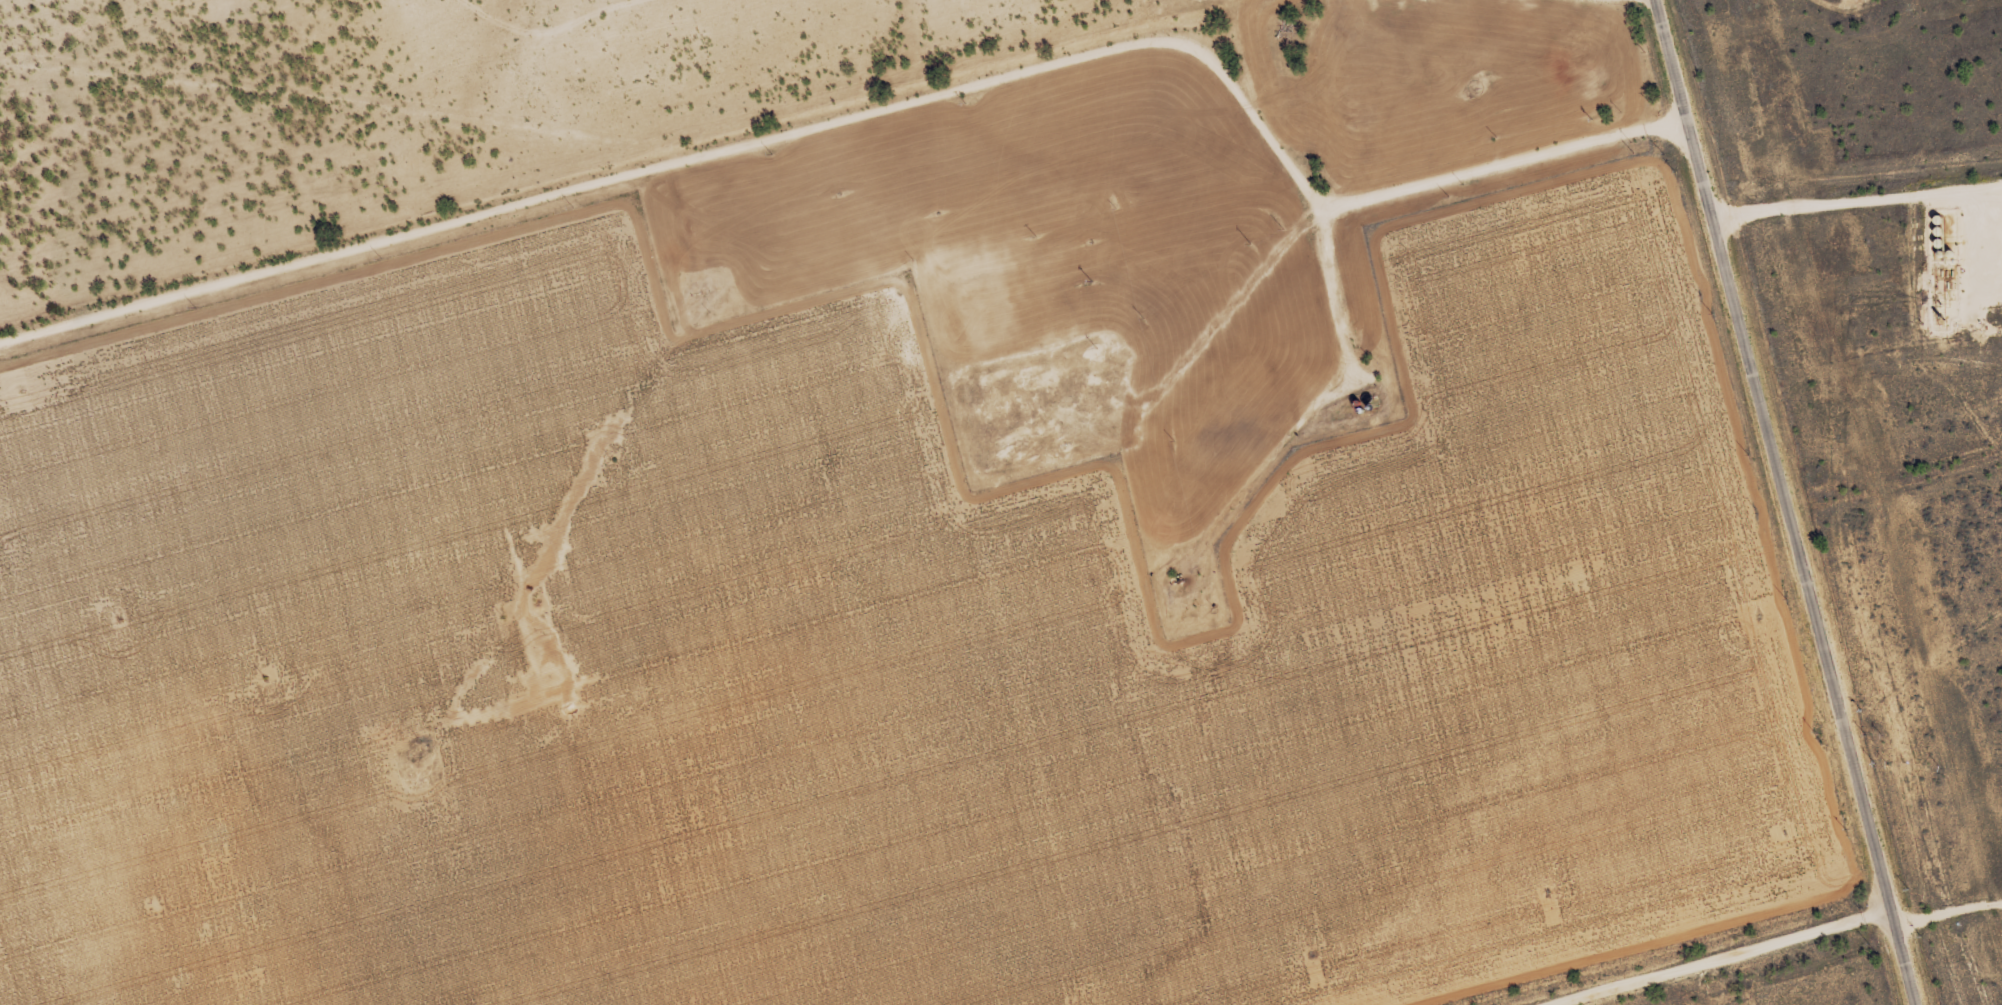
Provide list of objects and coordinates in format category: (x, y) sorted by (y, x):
road: (875, 105)
road: (1857, 200)
building: (1023, 445)
road: (1786, 502)

